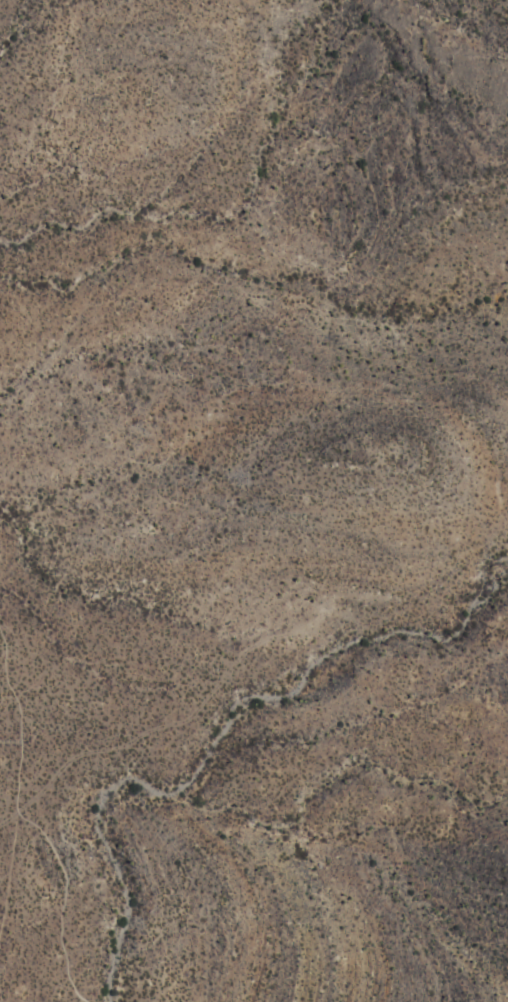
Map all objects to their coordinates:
road: (22, 813)

